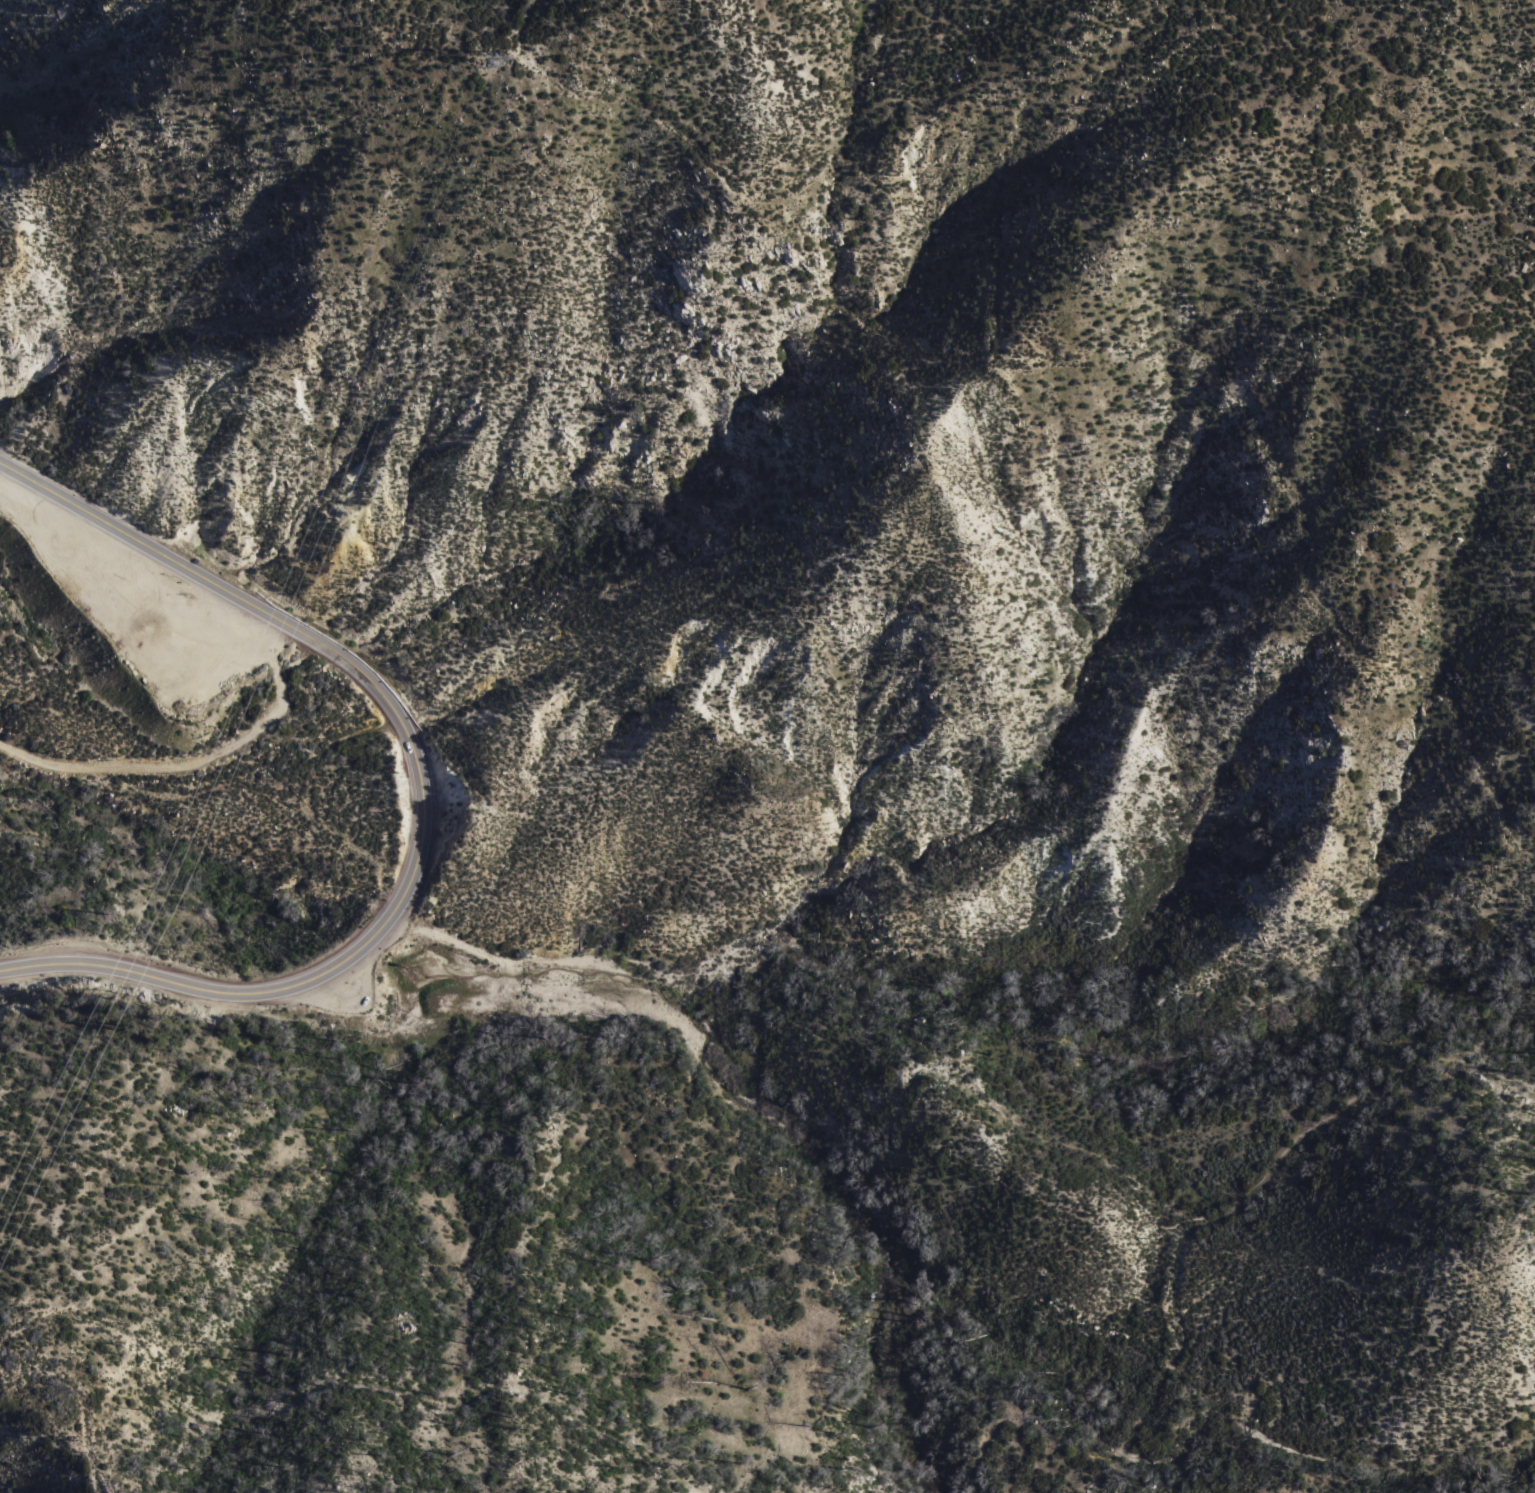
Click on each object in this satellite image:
power tower: (517, 60)
power tower: (321, 784)
road: (420, 788)

